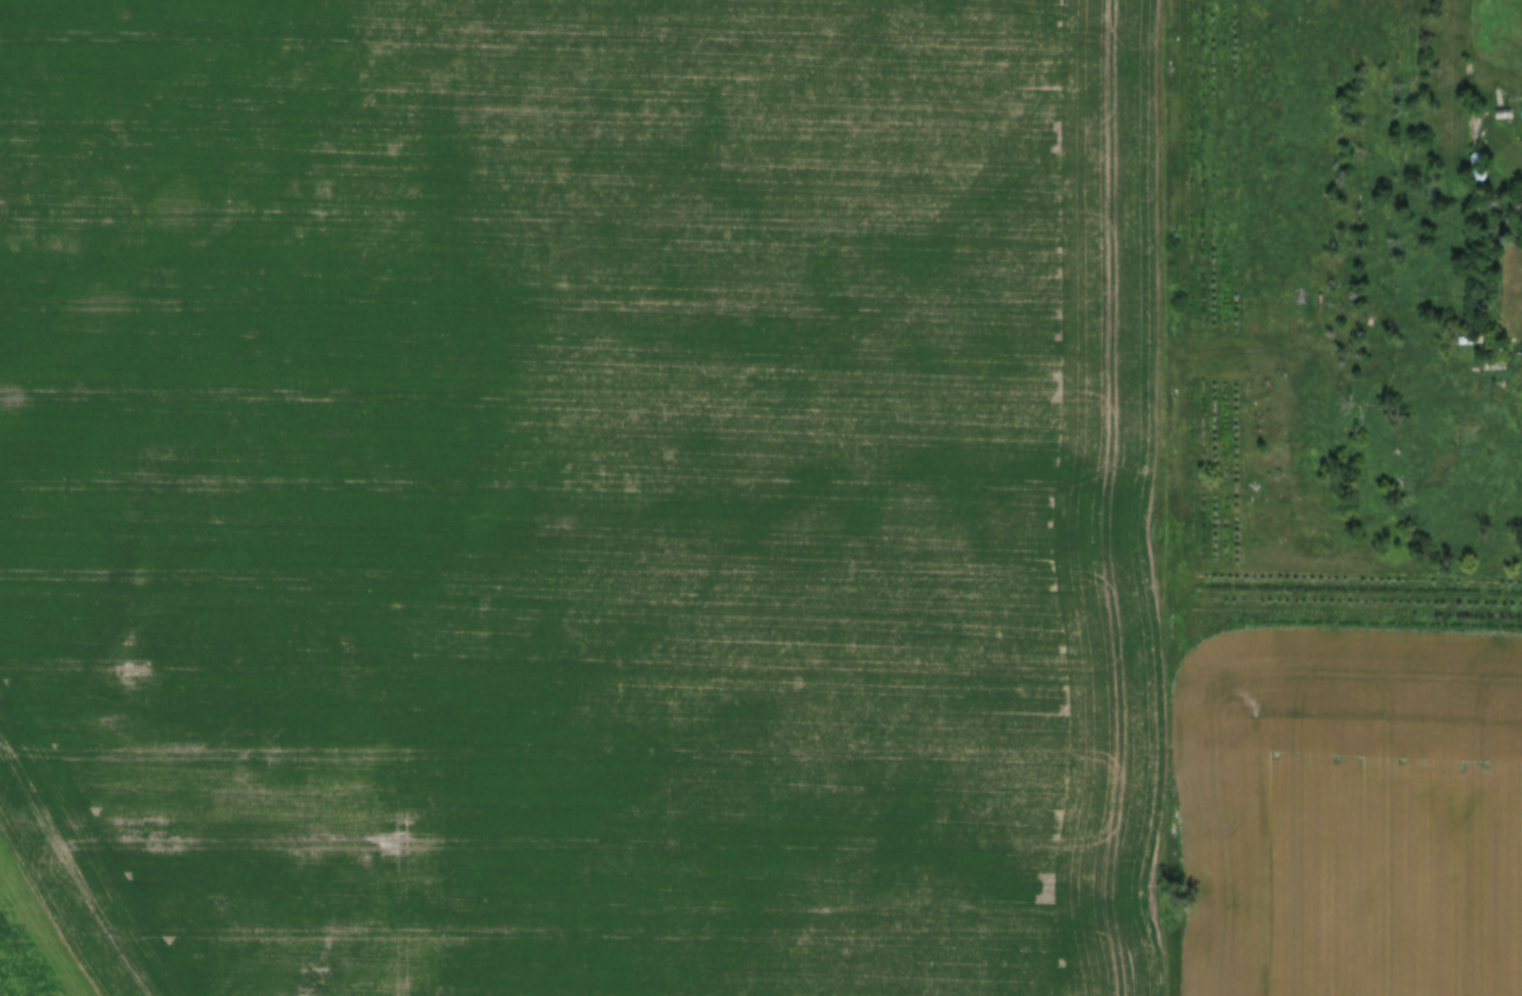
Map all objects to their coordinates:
building: (1502, 106)
building: (1521, 106)
building: (1476, 168)
silo: (1476, 168)
building: (1491, 192)
silo: (1491, 192)
road: (1160, 497)

